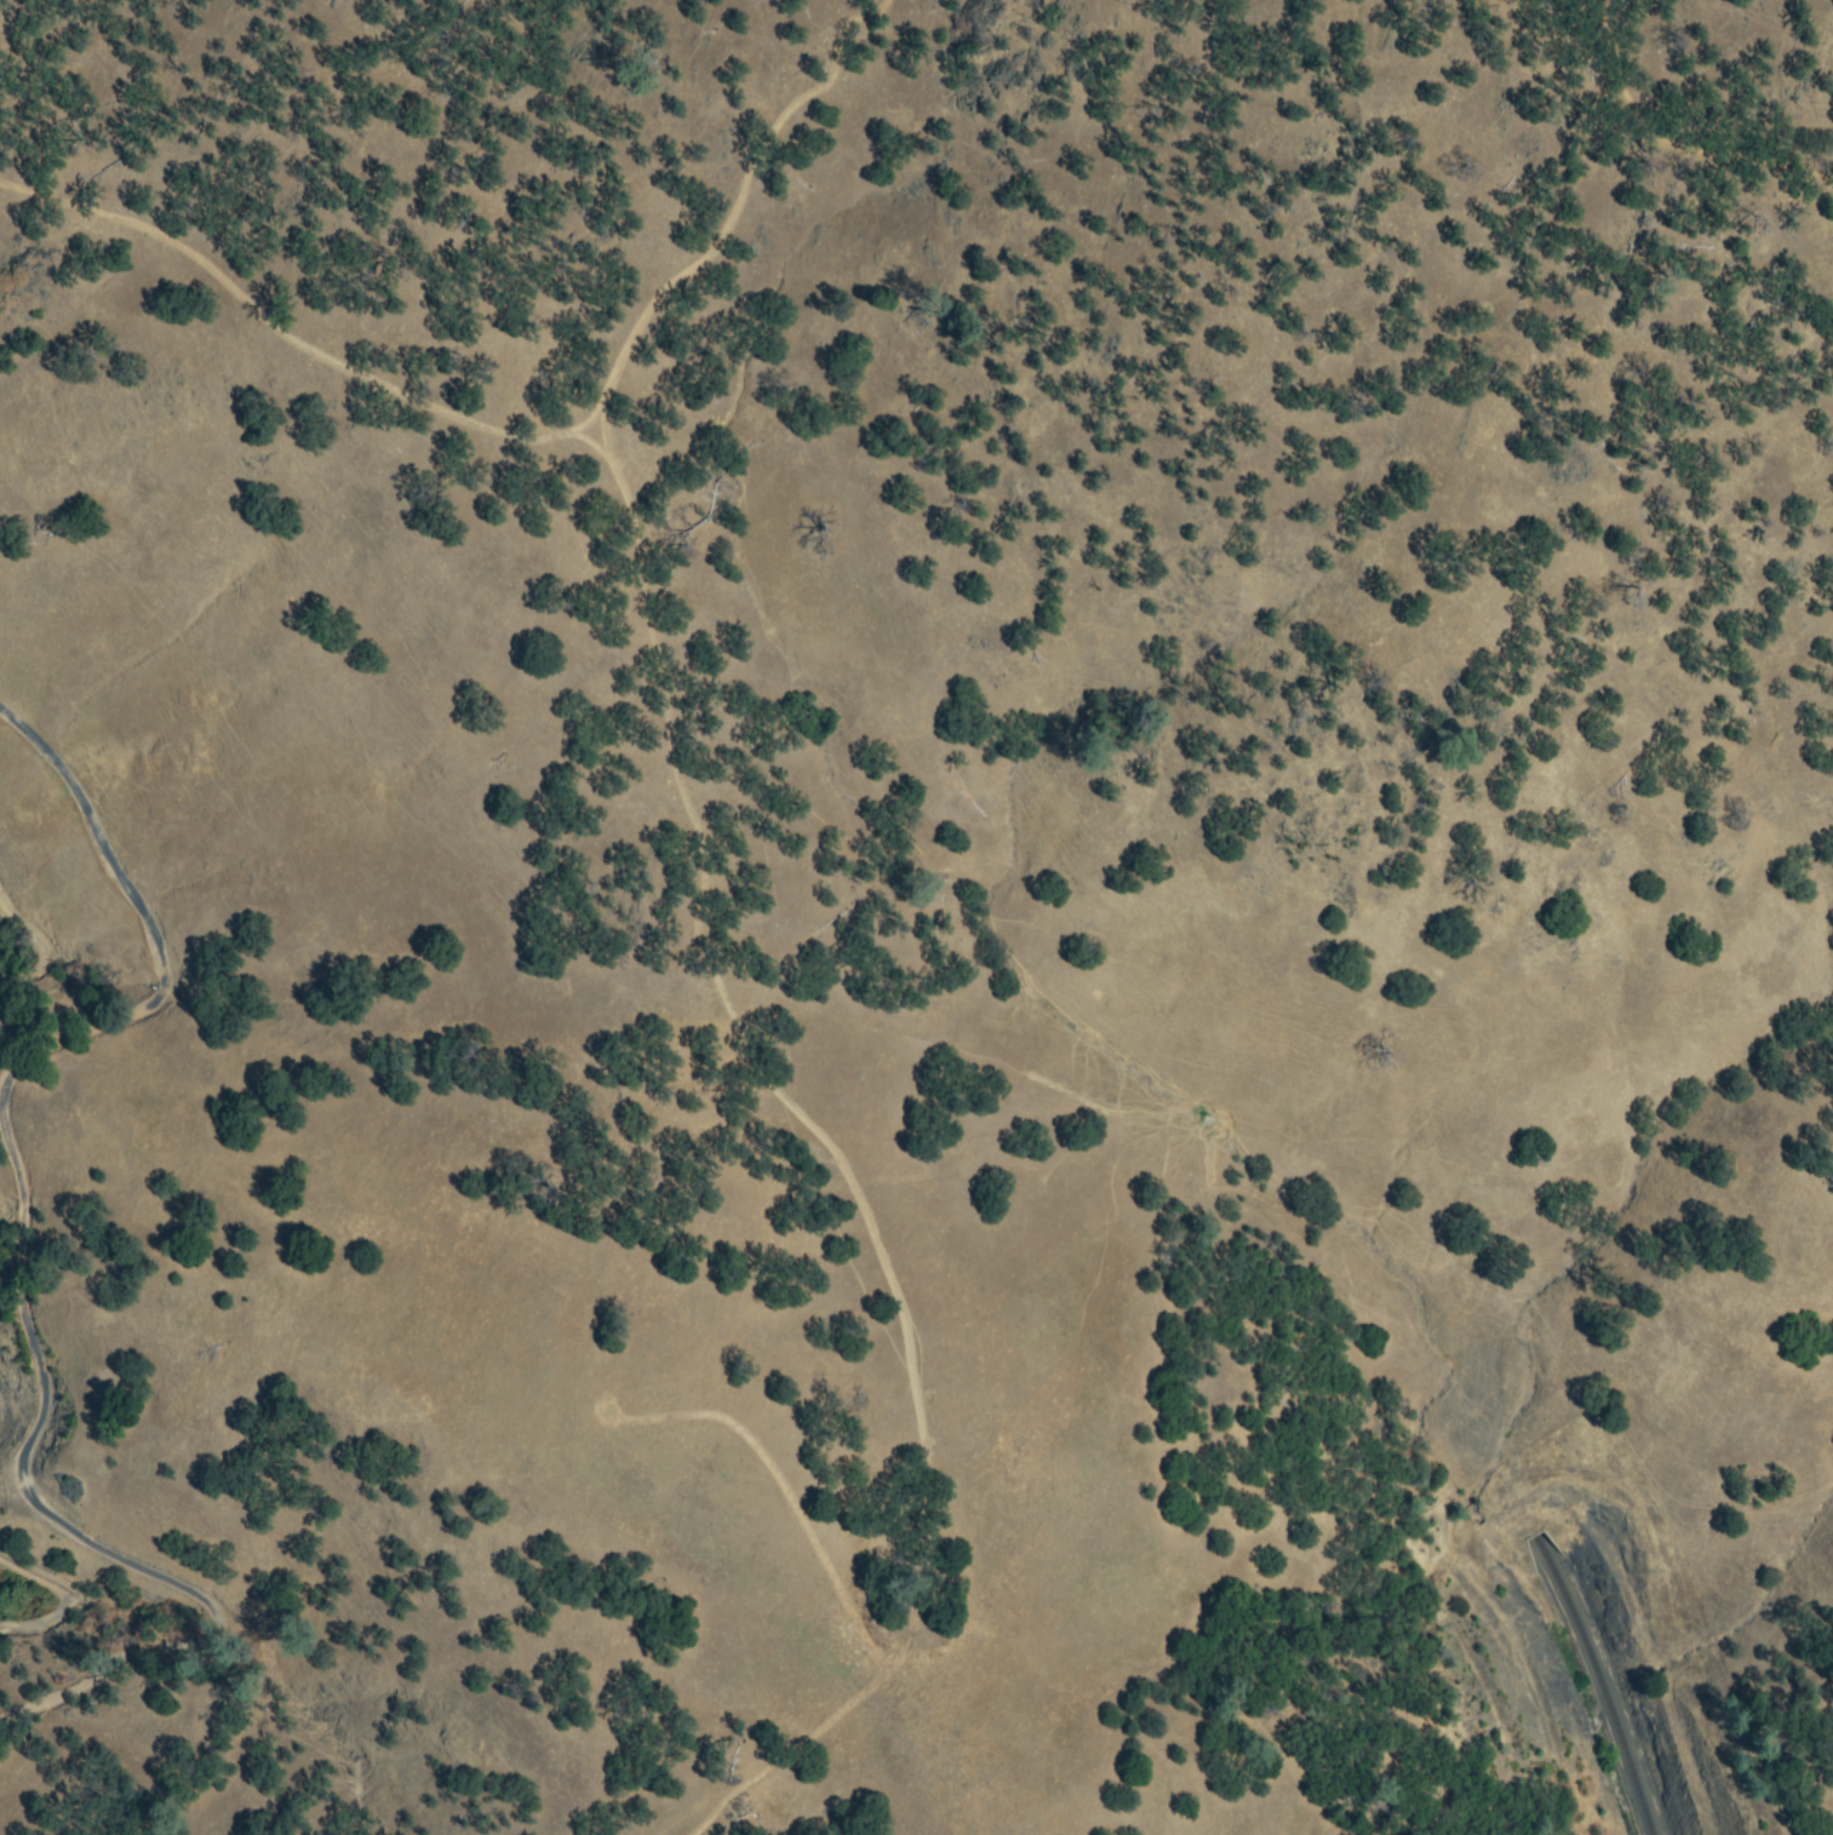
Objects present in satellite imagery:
railway: (1599, 1682)

